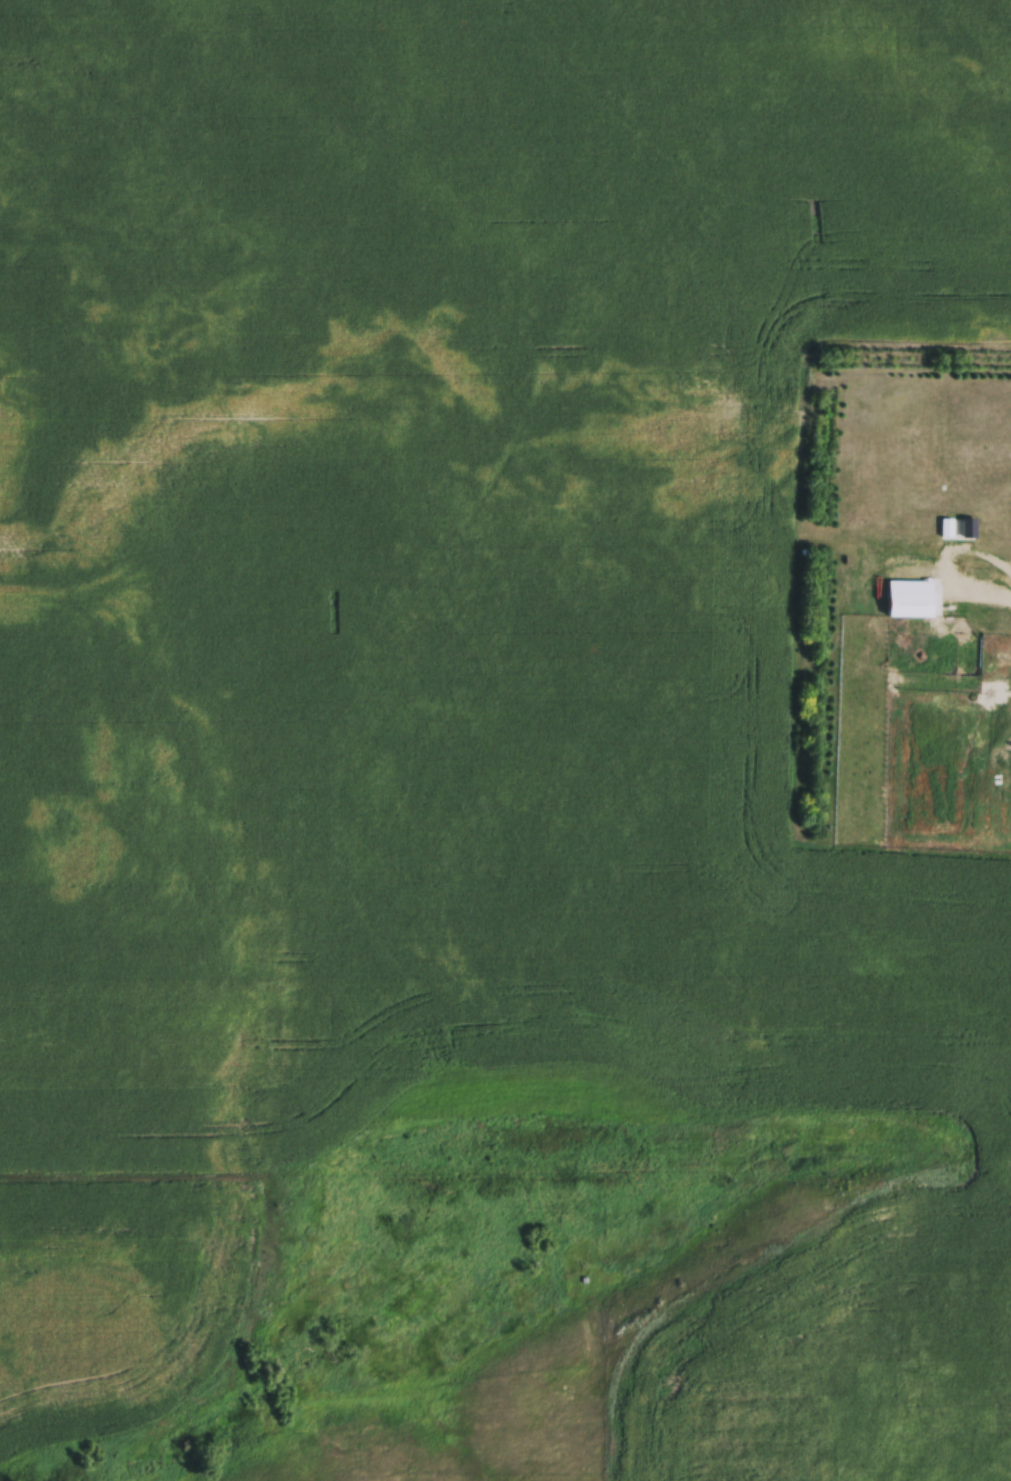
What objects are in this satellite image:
building: (910, 601)

